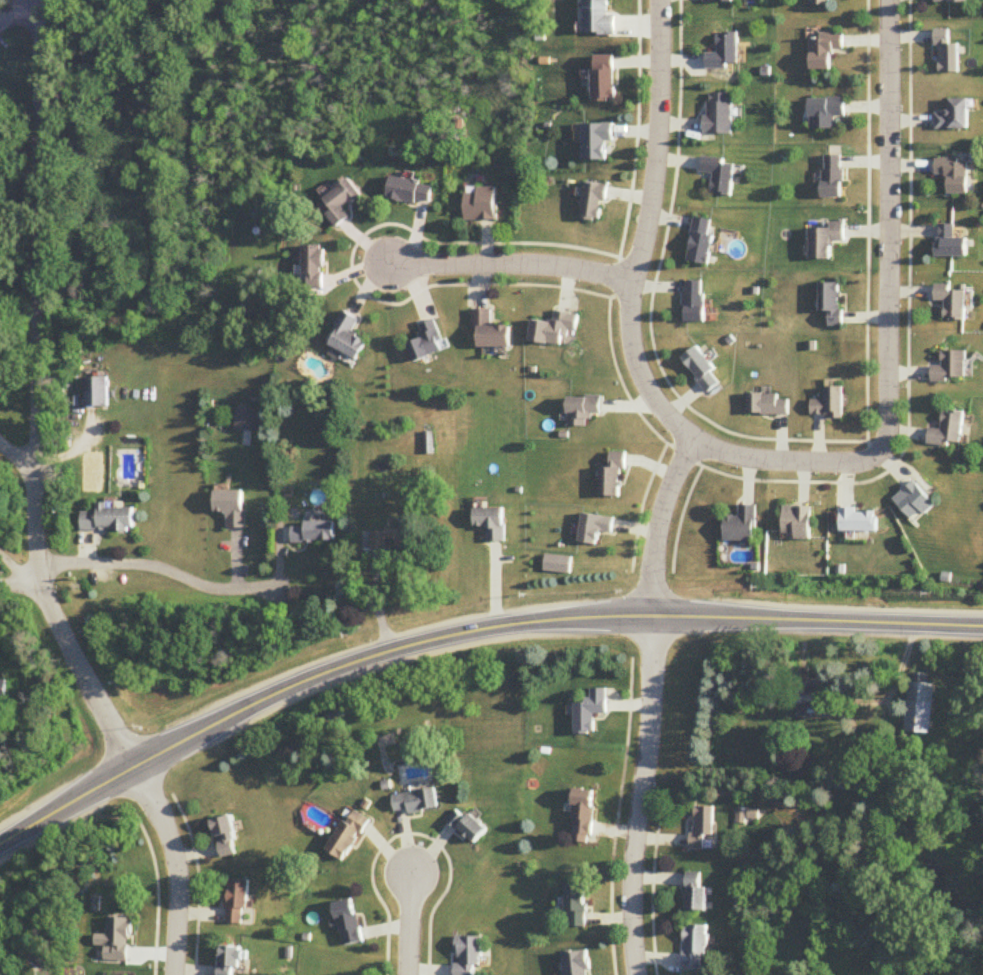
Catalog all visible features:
building: (720, 2)
building: (951, 2)
building: (821, 3)
road: (7, 9)
building: (599, 18)
building: (825, 50)
building: (725, 53)
building: (946, 55)
building: (604, 79)
building: (826, 114)
building: (719, 116)
building: (952, 118)
building: (597, 143)
building: (720, 176)
building: (953, 177)
building: (833, 178)
building: (411, 193)
building: (342, 203)
building: (594, 203)
building: (482, 205)
road: (647, 230)
building: (701, 242)
building: (826, 242)
building: (949, 244)
road: (511, 267)
building: (313, 269)
building: (694, 302)
building: (832, 302)
building: (952, 302)
road: (886, 329)
building: (554, 330)
building: (491, 333)
building: (348, 339)
building: (429, 344)
building: (952, 368)
building: (702, 370)
building: (96, 392)
road: (39, 395)
building: (768, 404)
building: (831, 404)
building: (581, 415)
building: (248, 420)
building: (949, 430)
road: (19, 462)
building: (613, 476)
building: (915, 502)
building: (232, 507)
building: (110, 519)
building: (859, 520)
building: (797, 522)
building: (492, 523)
building: (742, 525)
road: (659, 526)
building: (594, 529)
building: (314, 532)
building: (393, 540)
road: (162, 568)
road: (12, 569)
road: (20, 585)
road: (467, 633)
building: (4, 692)
building: (811, 695)
building: (922, 707)
building: (590, 712)
road: (642, 795)
building: (416, 802)
road: (883, 804)
building: (584, 816)
building: (468, 826)
building: (703, 827)
building: (226, 837)
building: (346, 837)
road: (179, 866)
building: (696, 894)
building: (240, 902)
building: (576, 904)
building: (350, 923)
road: (411, 925)
building: (118, 941)
building: (695, 950)
road: (28, 952)
building: (469, 955)
building: (235, 961)
building: (575, 963)

